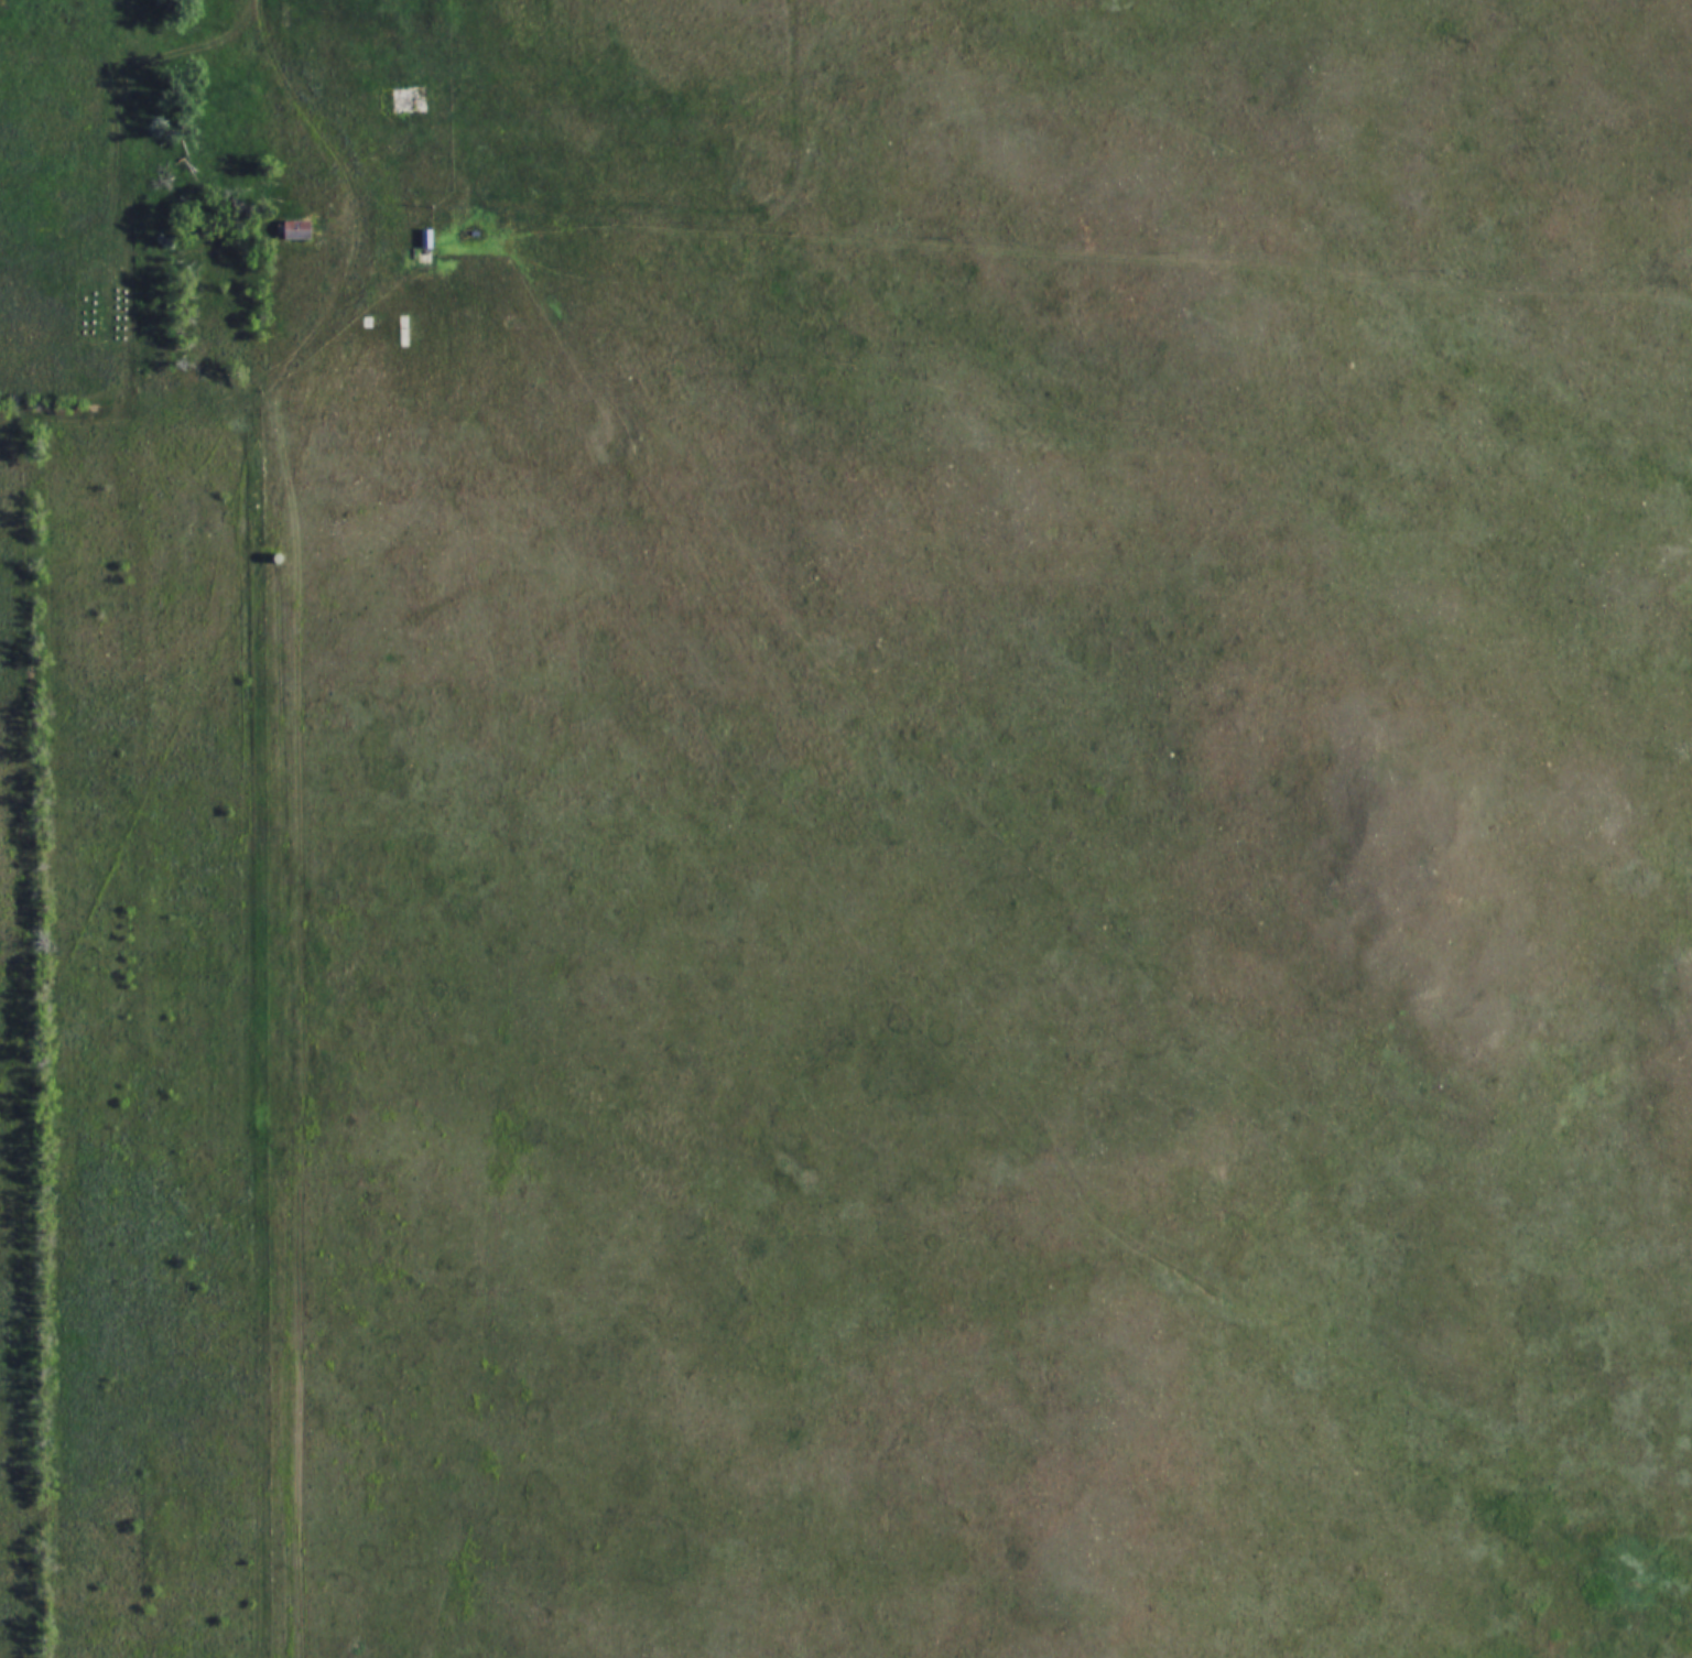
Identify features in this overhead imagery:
building: (403, 98)
road: (126, 199)
building: (294, 228)

